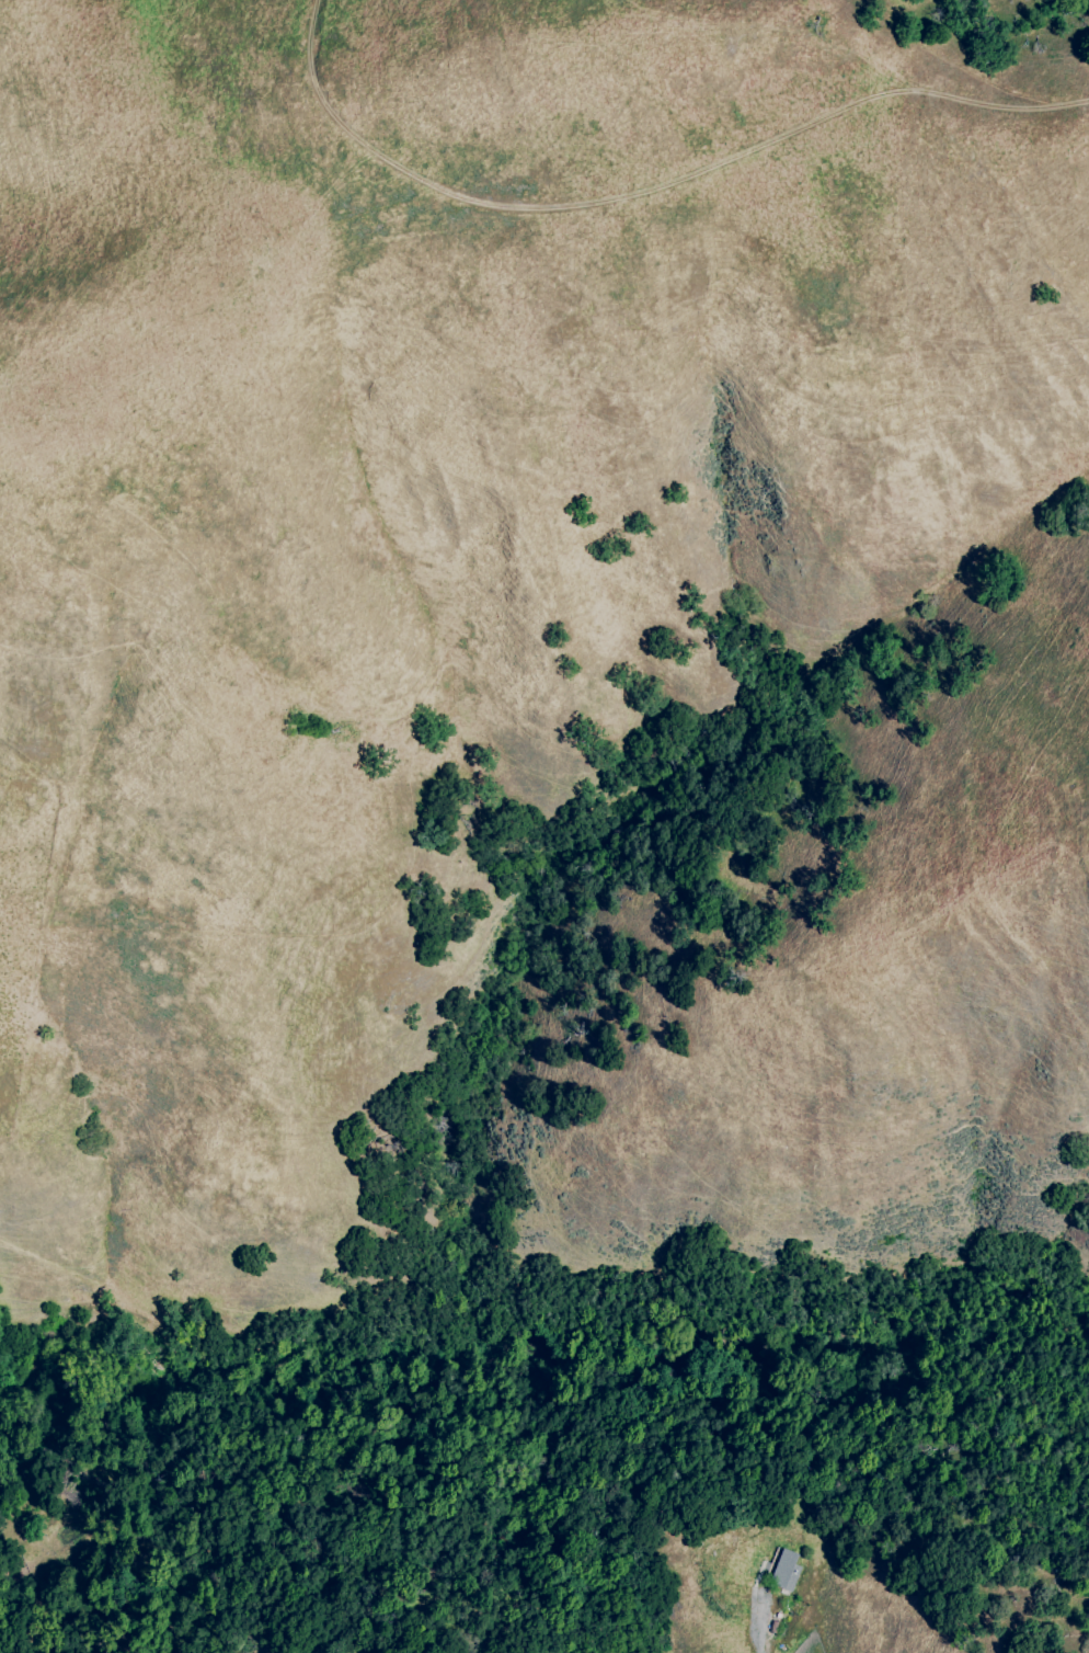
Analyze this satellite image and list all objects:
building: (784, 1571)
road: (757, 1643)

